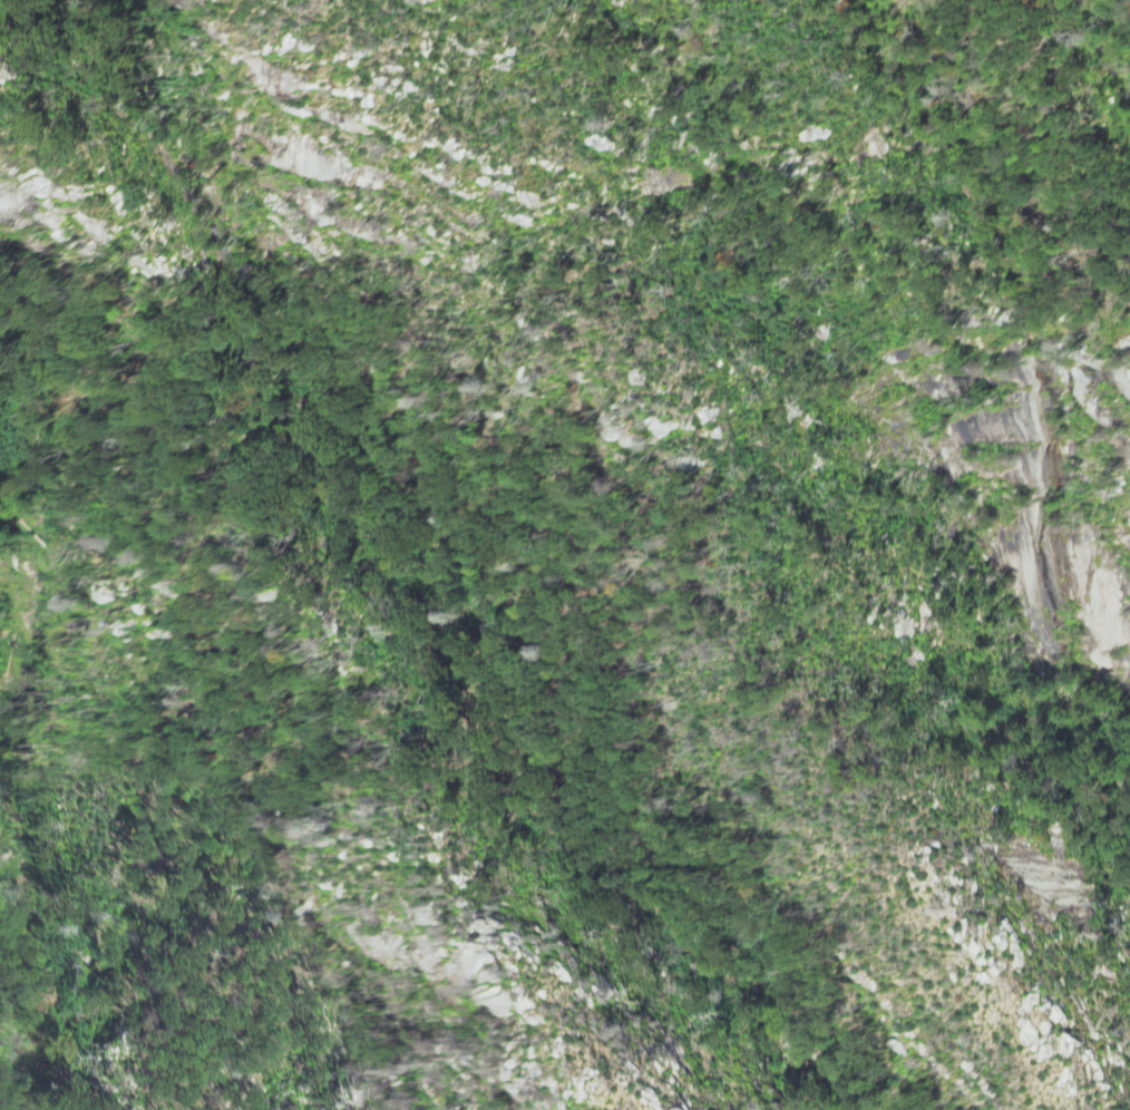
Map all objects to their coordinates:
park: (508, 493)

